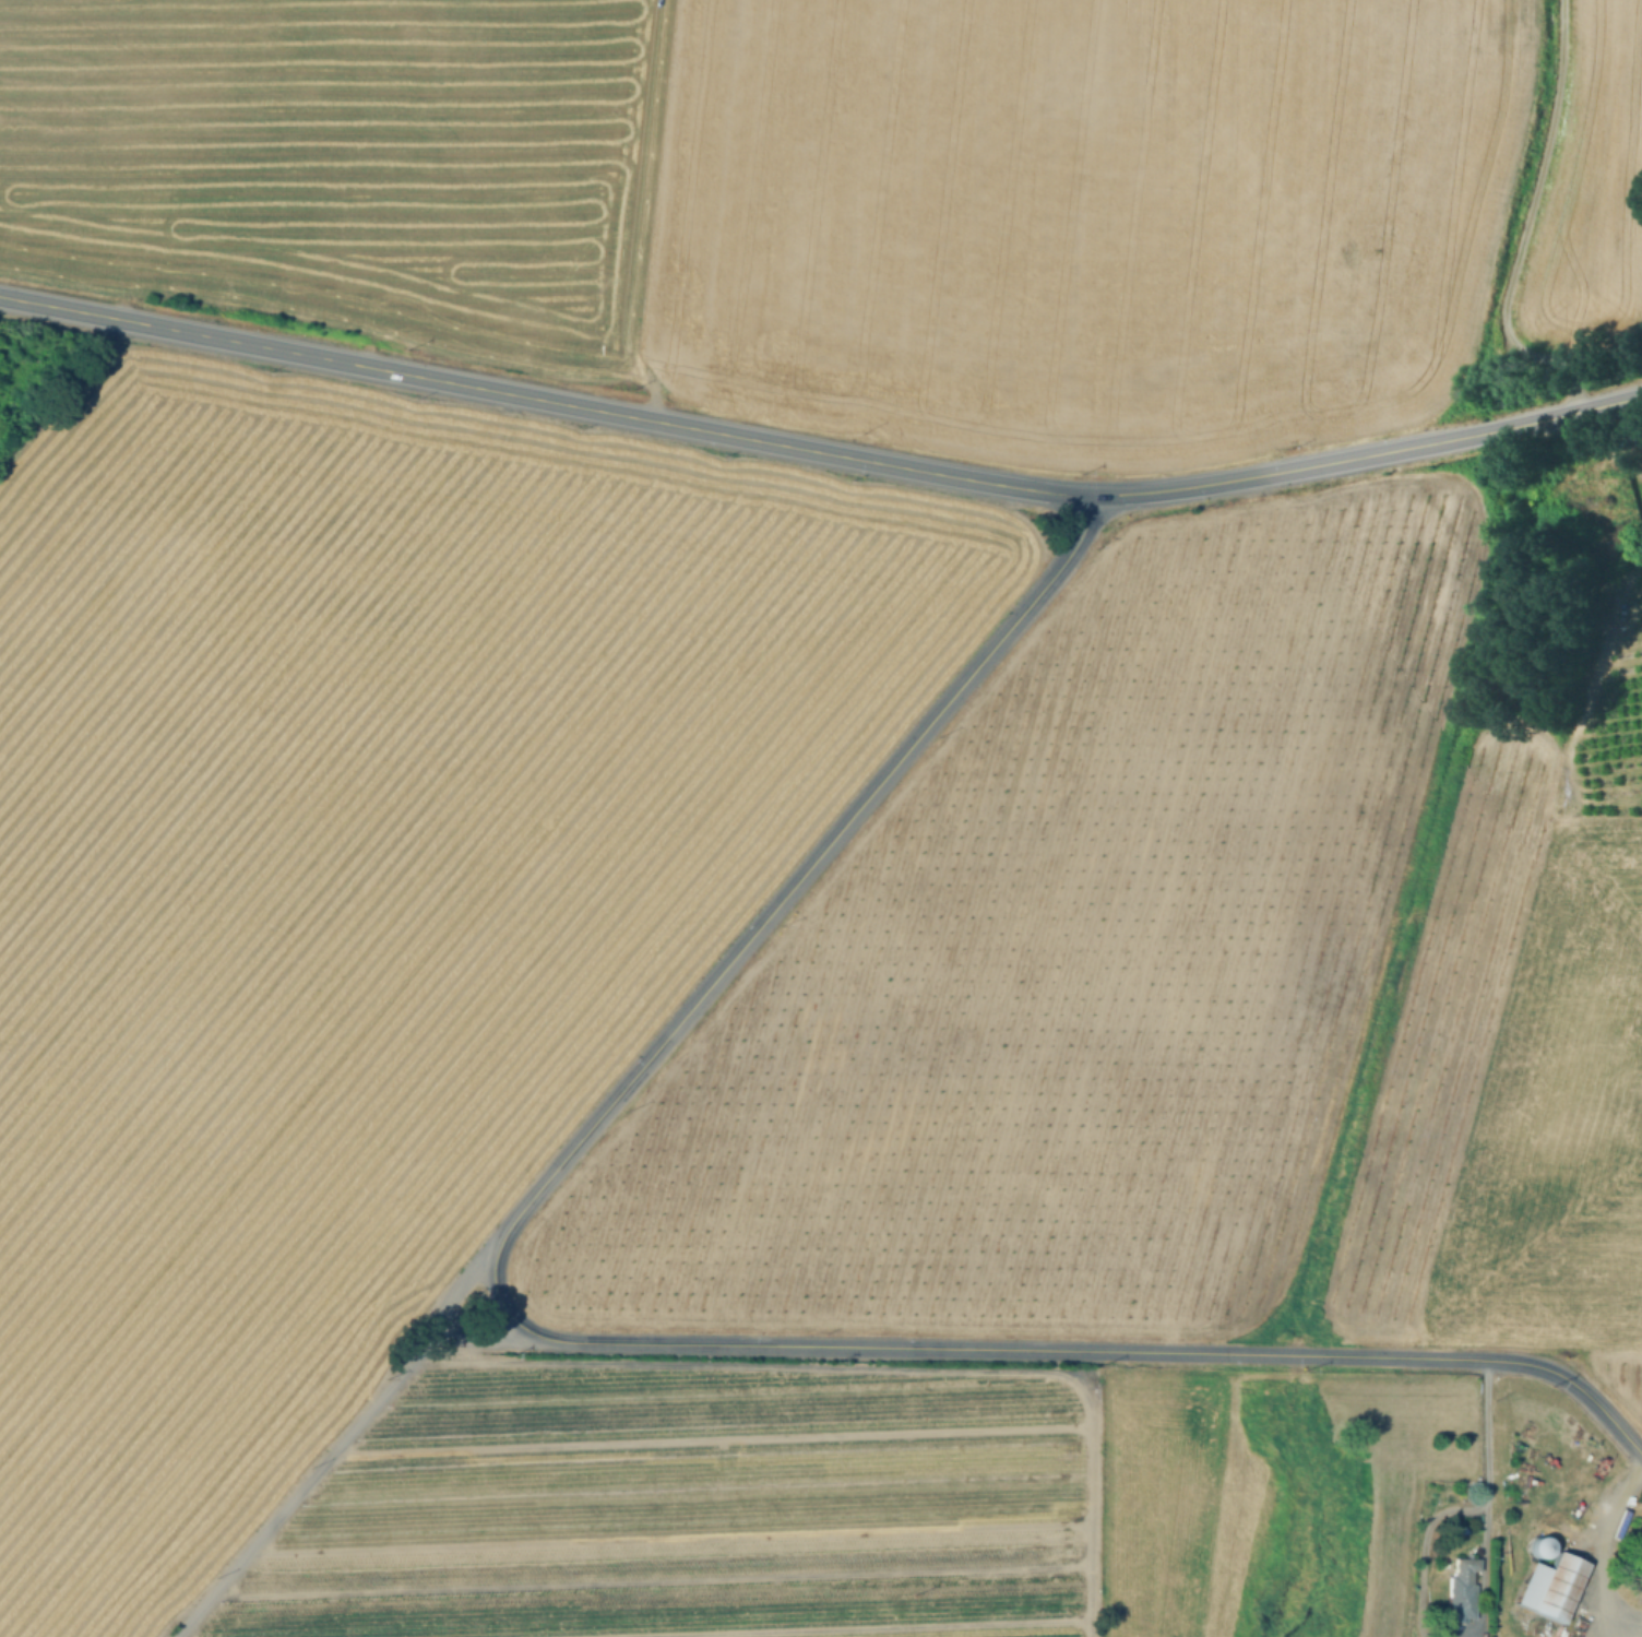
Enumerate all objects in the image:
crop: (348, 167)
crop: (1592, 190)
crop: (1085, 216)
road: (1527, 226)
road: (656, 367)
road: (820, 448)
road: (807, 869)
crop: (367, 880)
crop: (1063, 964)
crop: (1512, 1086)
road: (478, 1333)
road: (1048, 1349)
road: (878, 1366)
road: (1487, 1431)
road: (345, 1439)
crop: (694, 1509)
road: (1423, 1547)
road: (1598, 1550)
building: (1542, 1552)
silo: (1542, 1552)
building: (1637, 1555)
road: (1484, 1571)
building: (1466, 1579)
building: (1552, 1590)

